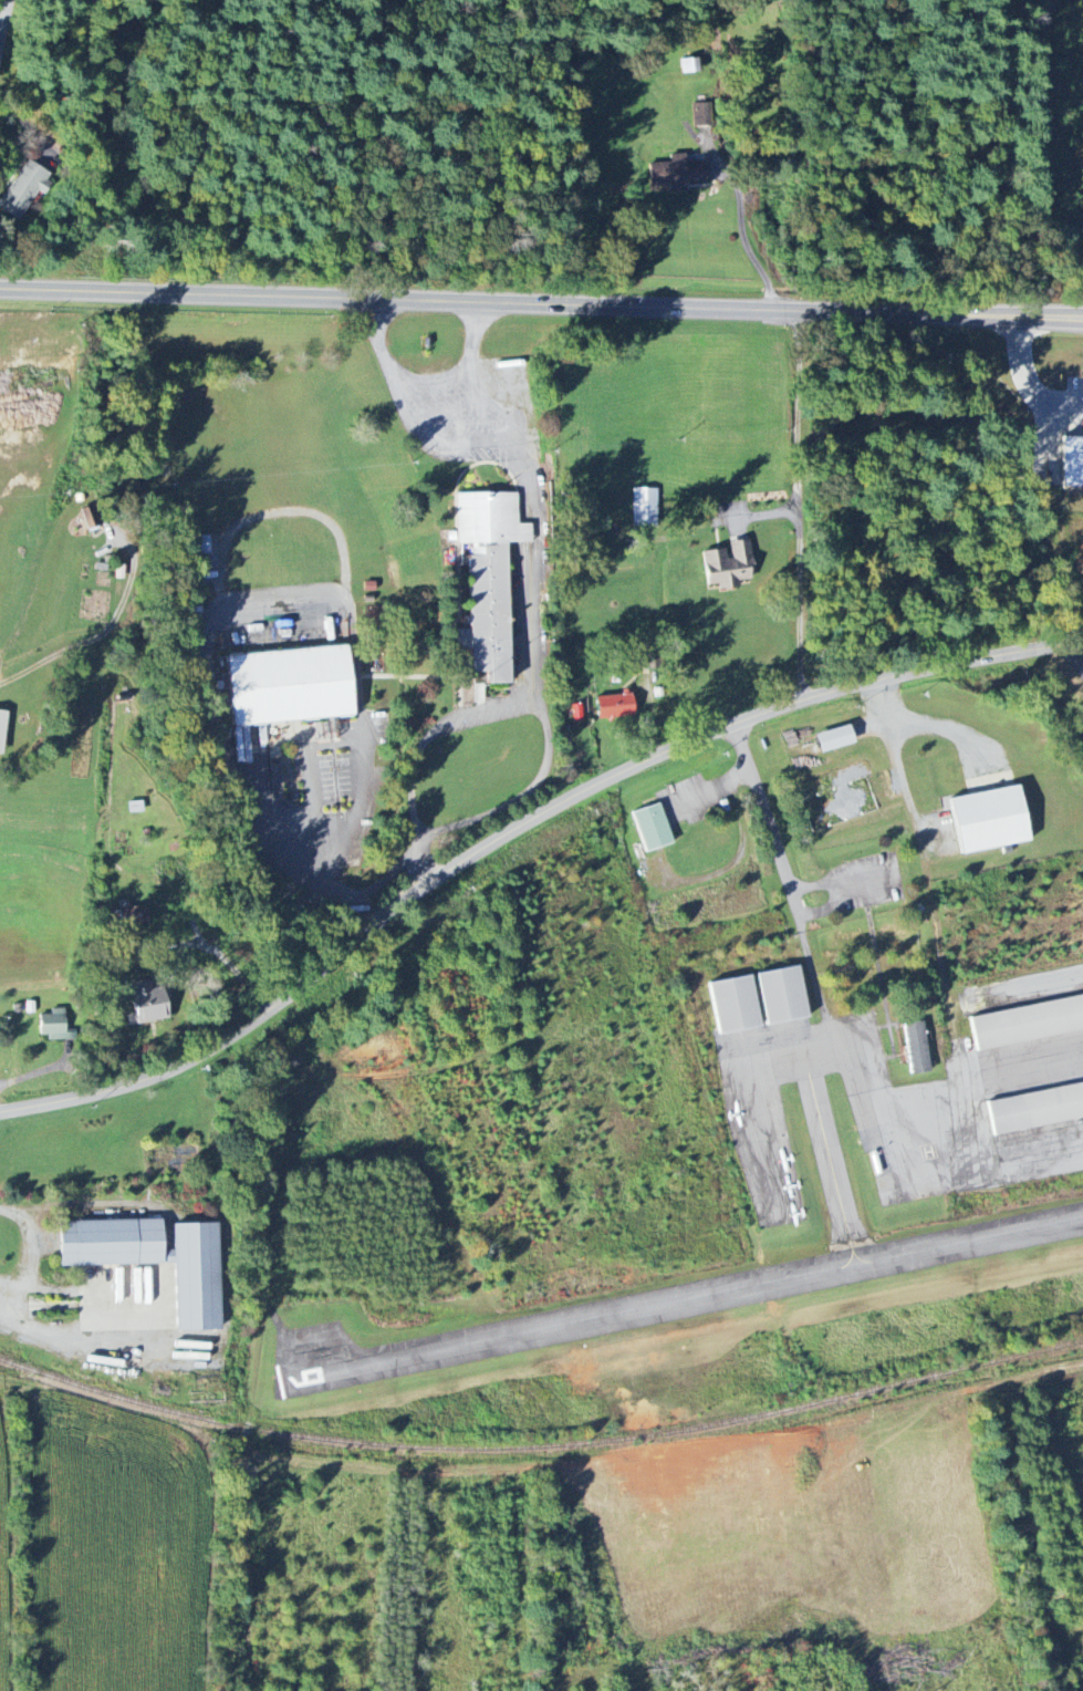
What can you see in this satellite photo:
quarry: (1082, 0)
building: (677, 173)
building: (24, 189)
road: (541, 307)
road: (424, 380)
road: (1027, 384)
road: (393, 388)
road: (451, 407)
road: (452, 442)
building: (1072, 461)
building: (644, 507)
road: (799, 508)
building: (87, 518)
road: (533, 522)
building: (201, 544)
building: (729, 566)
building: (482, 574)
road: (1079, 653)
building: (290, 686)
building: (615, 706)
building: (2, 728)
road: (430, 734)
building: (835, 739)
road: (365, 791)
road: (710, 792)
road: (520, 796)
parking lot: (689, 801)
building: (990, 820)
building: (653, 828)
road: (518, 831)
road: (263, 853)
road: (420, 865)
road: (779, 868)
road: (888, 875)
road: (386, 878)
parking lot: (867, 882)
building: (133, 916)
road: (233, 967)
airport hangar: (778, 995)
building: (778, 995)
building: (146, 1003)
airport hangar: (730, 1005)
building: (730, 1005)
airport hangar: (1028, 1023)
building: (1028, 1023)
building: (54, 1025)
building: (917, 1049)
road: (35, 1073)
airport apron: (924, 1097)
airport hangar: (1034, 1109)
building: (1034, 1109)
airport taxiway: (832, 1172)
airport: (787, 1190)
building: (111, 1243)
road: (30, 1245)
building: (196, 1277)
airport runway: (684, 1303)
railway: (541, 1455)

